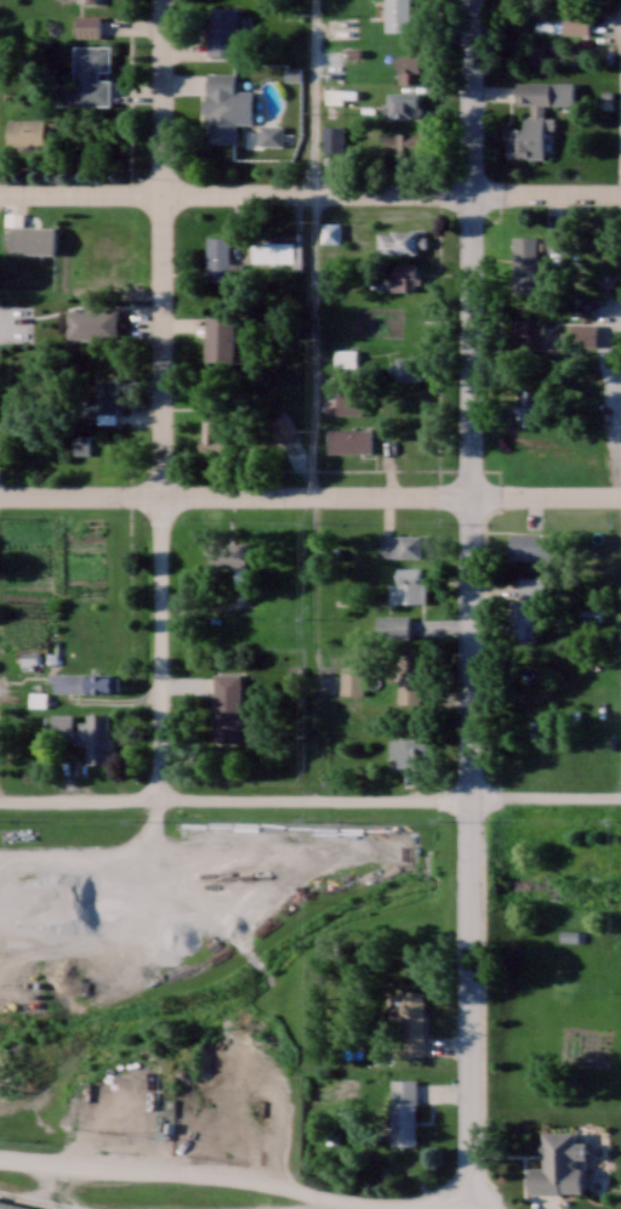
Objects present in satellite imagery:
building: (90, 0)
building: (397, 15)
building: (575, 19)
building: (87, 24)
building: (222, 29)
building: (87, 76)
road: (315, 96)
building: (403, 103)
building: (226, 106)
building: (530, 121)
building: (24, 132)
building: (332, 137)
building: (401, 141)
building: (270, 143)
road: (235, 192)
road: (546, 192)
building: (330, 232)
building: (32, 238)
building: (398, 240)
building: (103, 243)
road: (160, 248)
road: (469, 248)
building: (277, 251)
building: (524, 252)
building: (217, 257)
building: (405, 274)
building: (92, 323)
building: (405, 323)
building: (526, 334)
building: (222, 336)
building: (406, 367)
building: (103, 398)
building: (348, 402)
building: (528, 405)
building: (280, 427)
building: (212, 432)
building: (349, 439)
road: (545, 495)
road: (234, 496)
road: (321, 498)
building: (528, 543)
building: (400, 545)
building: (228, 557)
building: (408, 585)
building: (530, 585)
building: (589, 614)
building: (519, 619)
building: (393, 625)
road: (163, 651)
building: (351, 679)
building: (409, 679)
building: (99, 682)
building: (227, 706)
building: (97, 737)
building: (408, 753)
road: (310, 805)
road: (471, 847)
road: (93, 861)
building: (568, 935)
building: (410, 1022)
building: (403, 1111)
building: (560, 1163)
road: (247, 1185)
building: (12, 1204)
road: (439, 1208)

